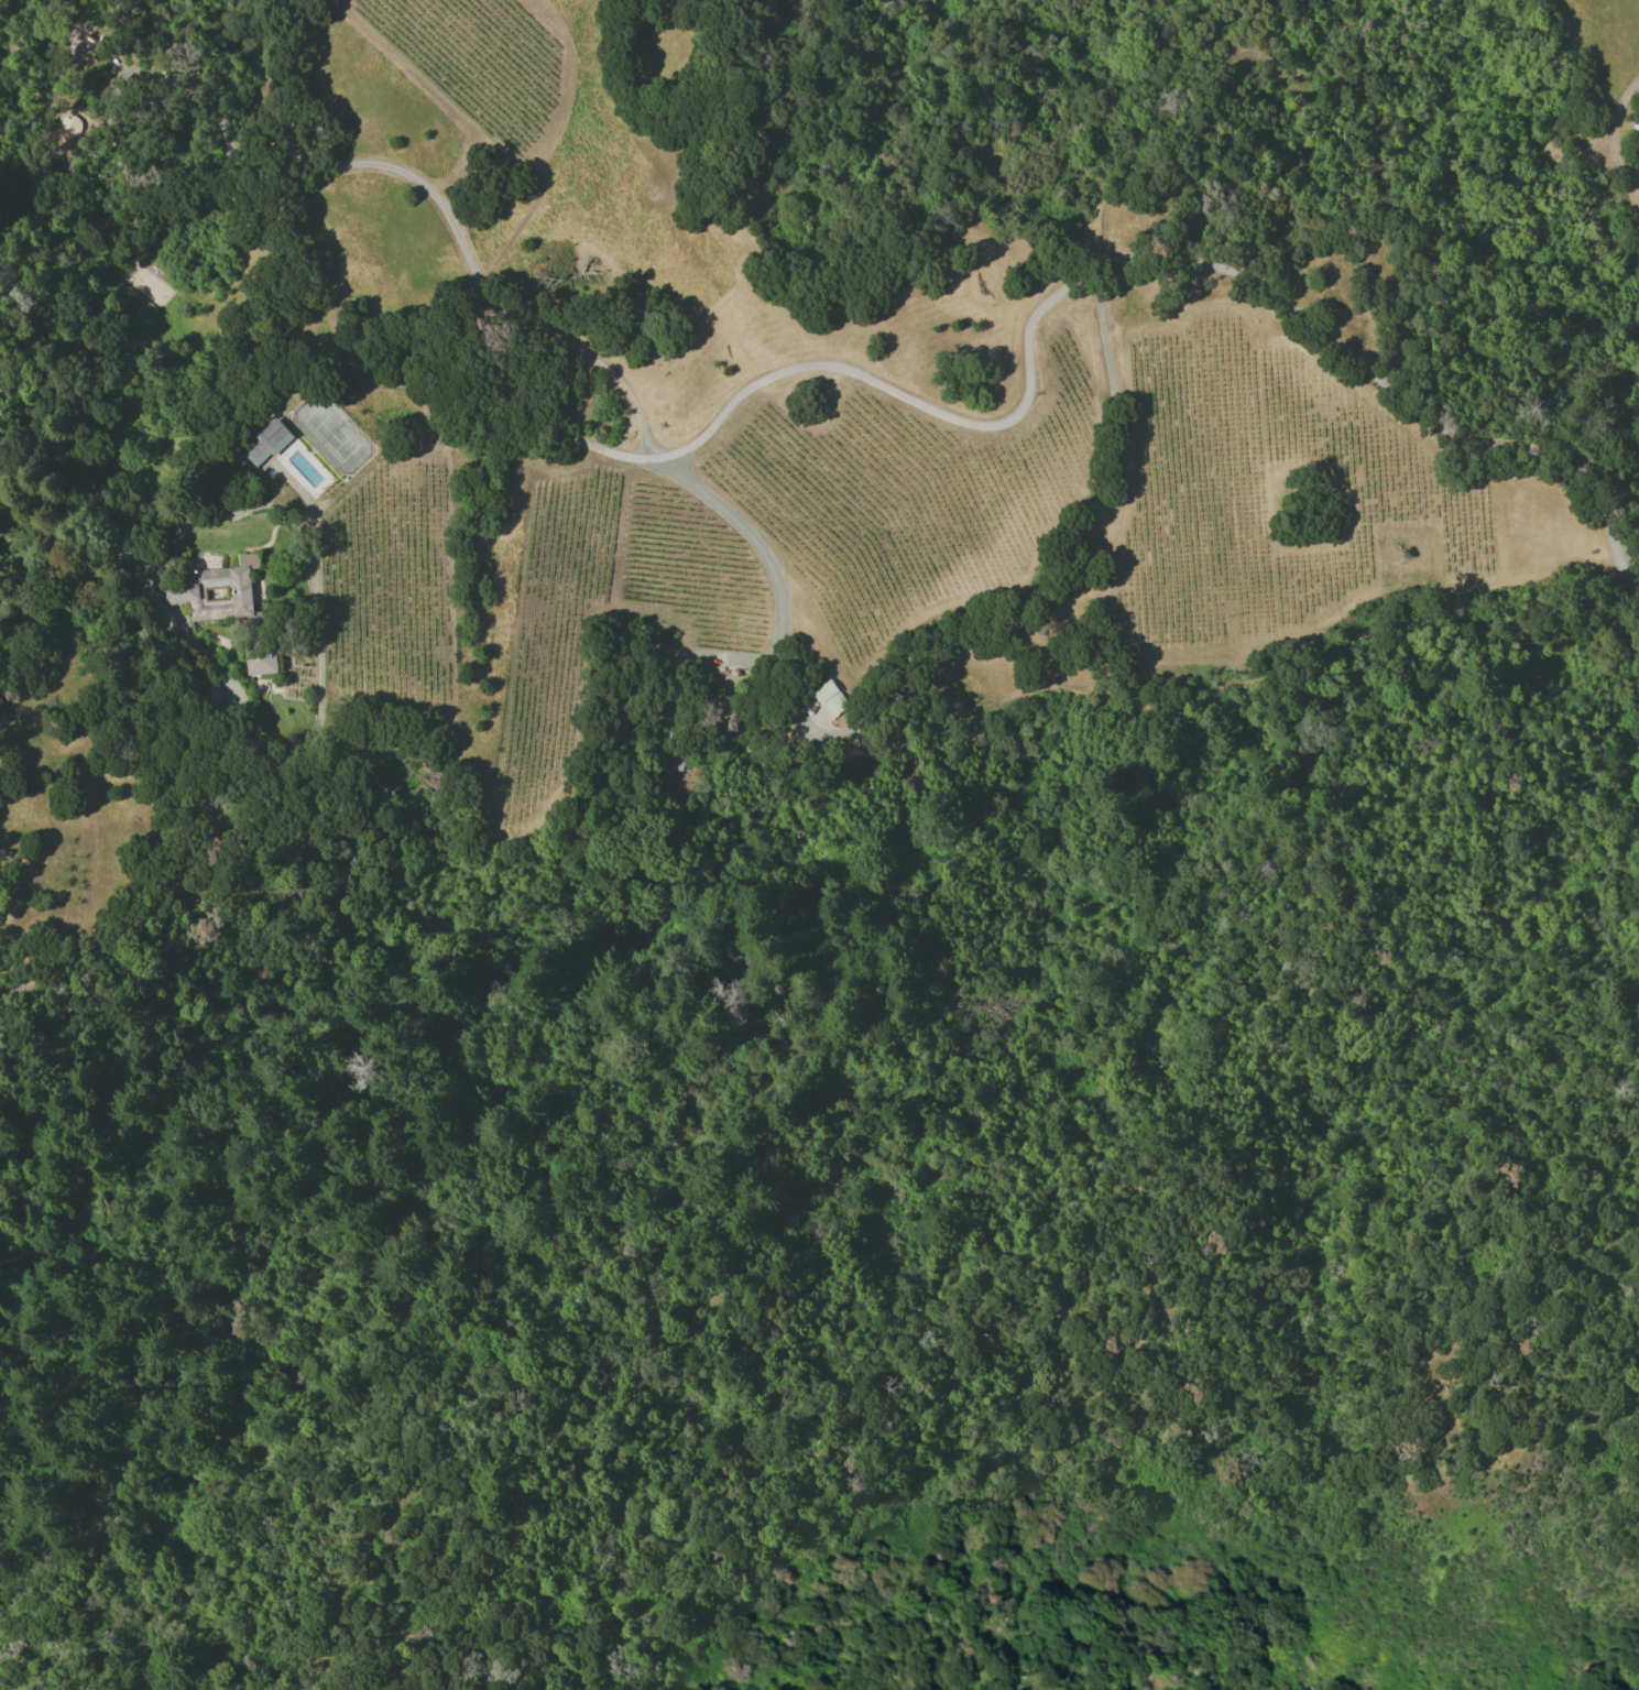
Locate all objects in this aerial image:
building: (266, 443)
crop: (785, 447)
road: (1617, 564)
building: (215, 590)
building: (260, 662)
building: (830, 696)
building: (670, 763)

